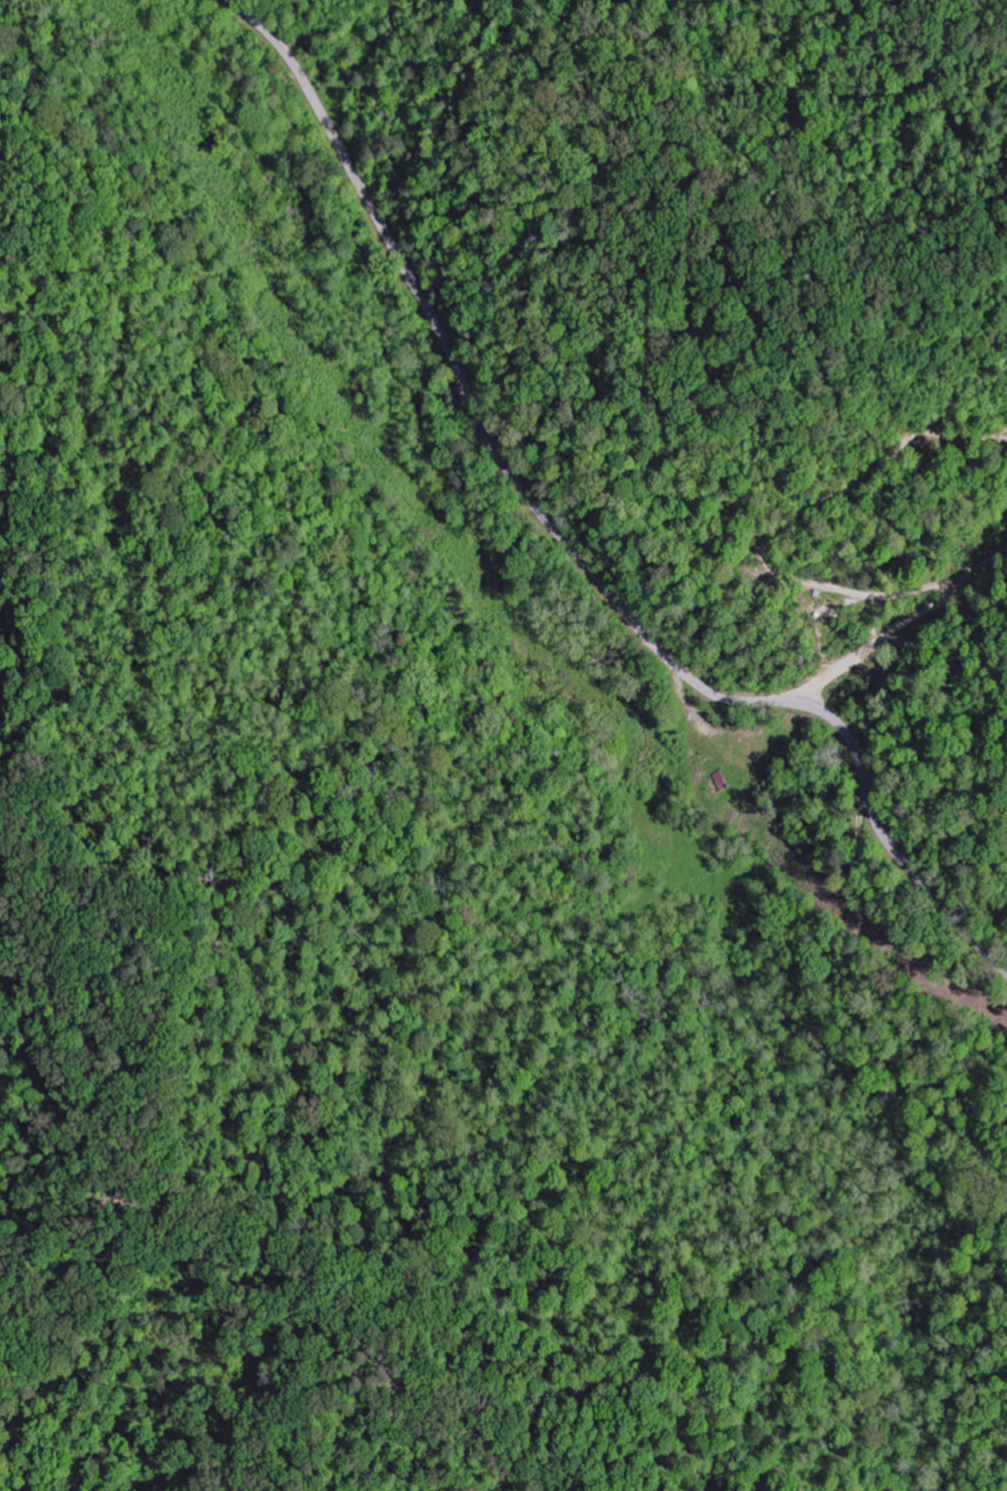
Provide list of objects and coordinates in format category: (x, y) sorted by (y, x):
road: (568, 545)

